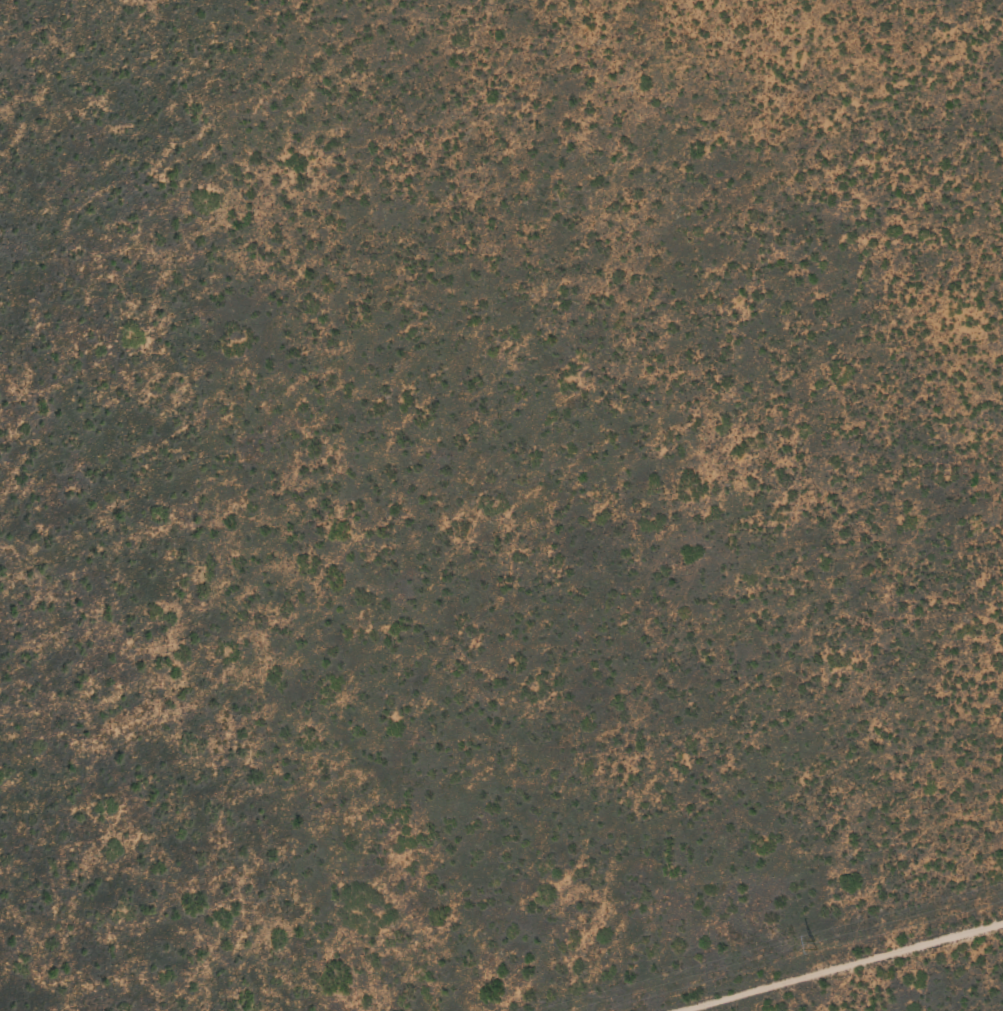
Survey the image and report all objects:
power tower: (813, 945)

